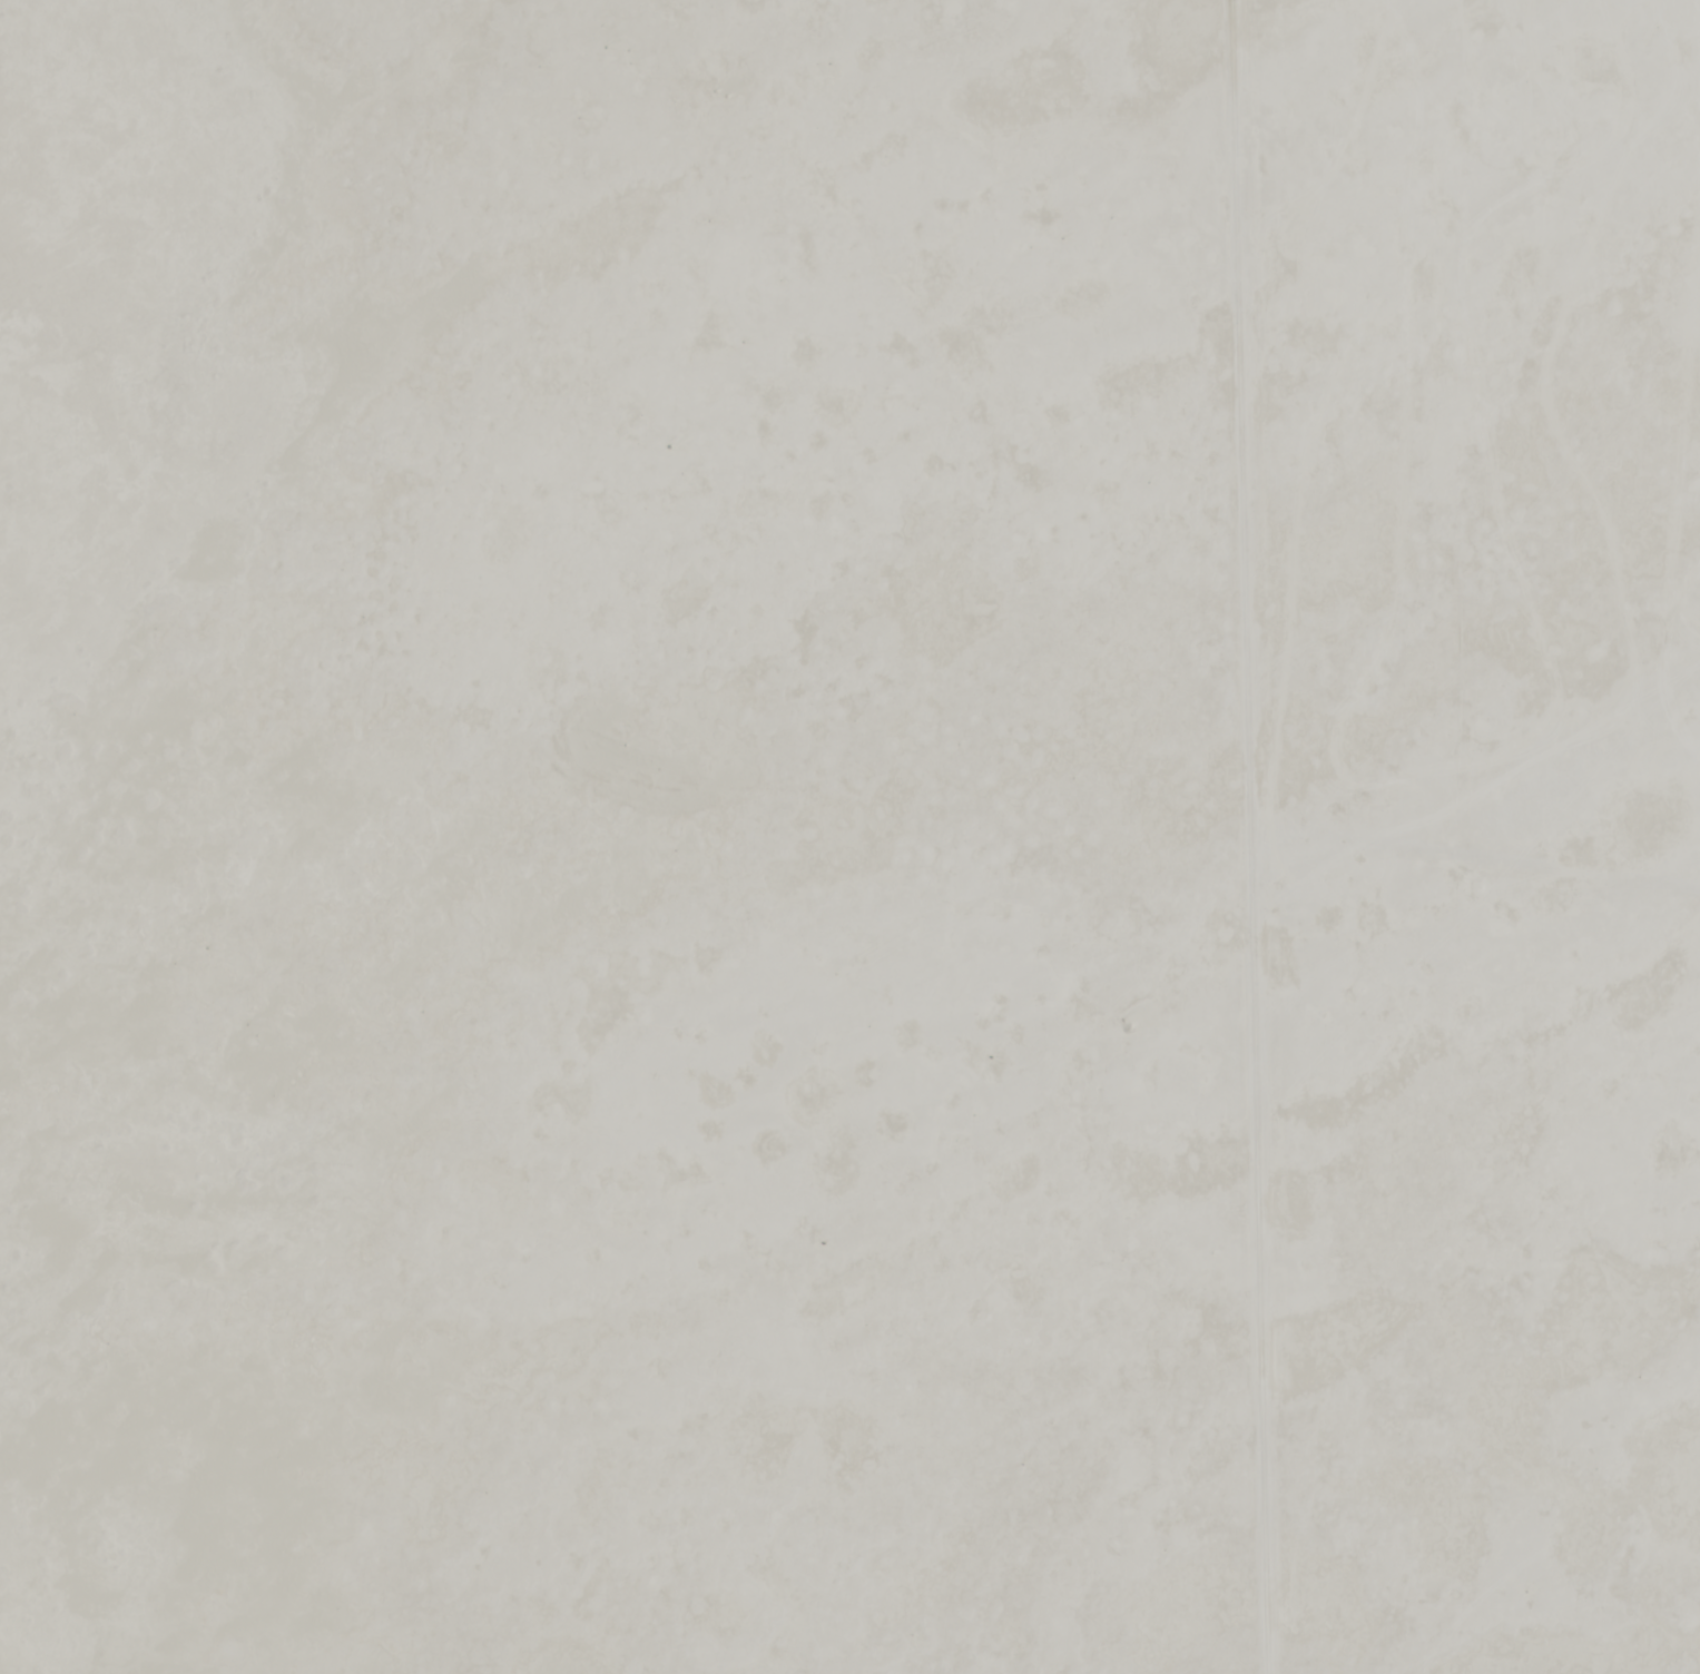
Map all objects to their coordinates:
road: (1256, 837)

